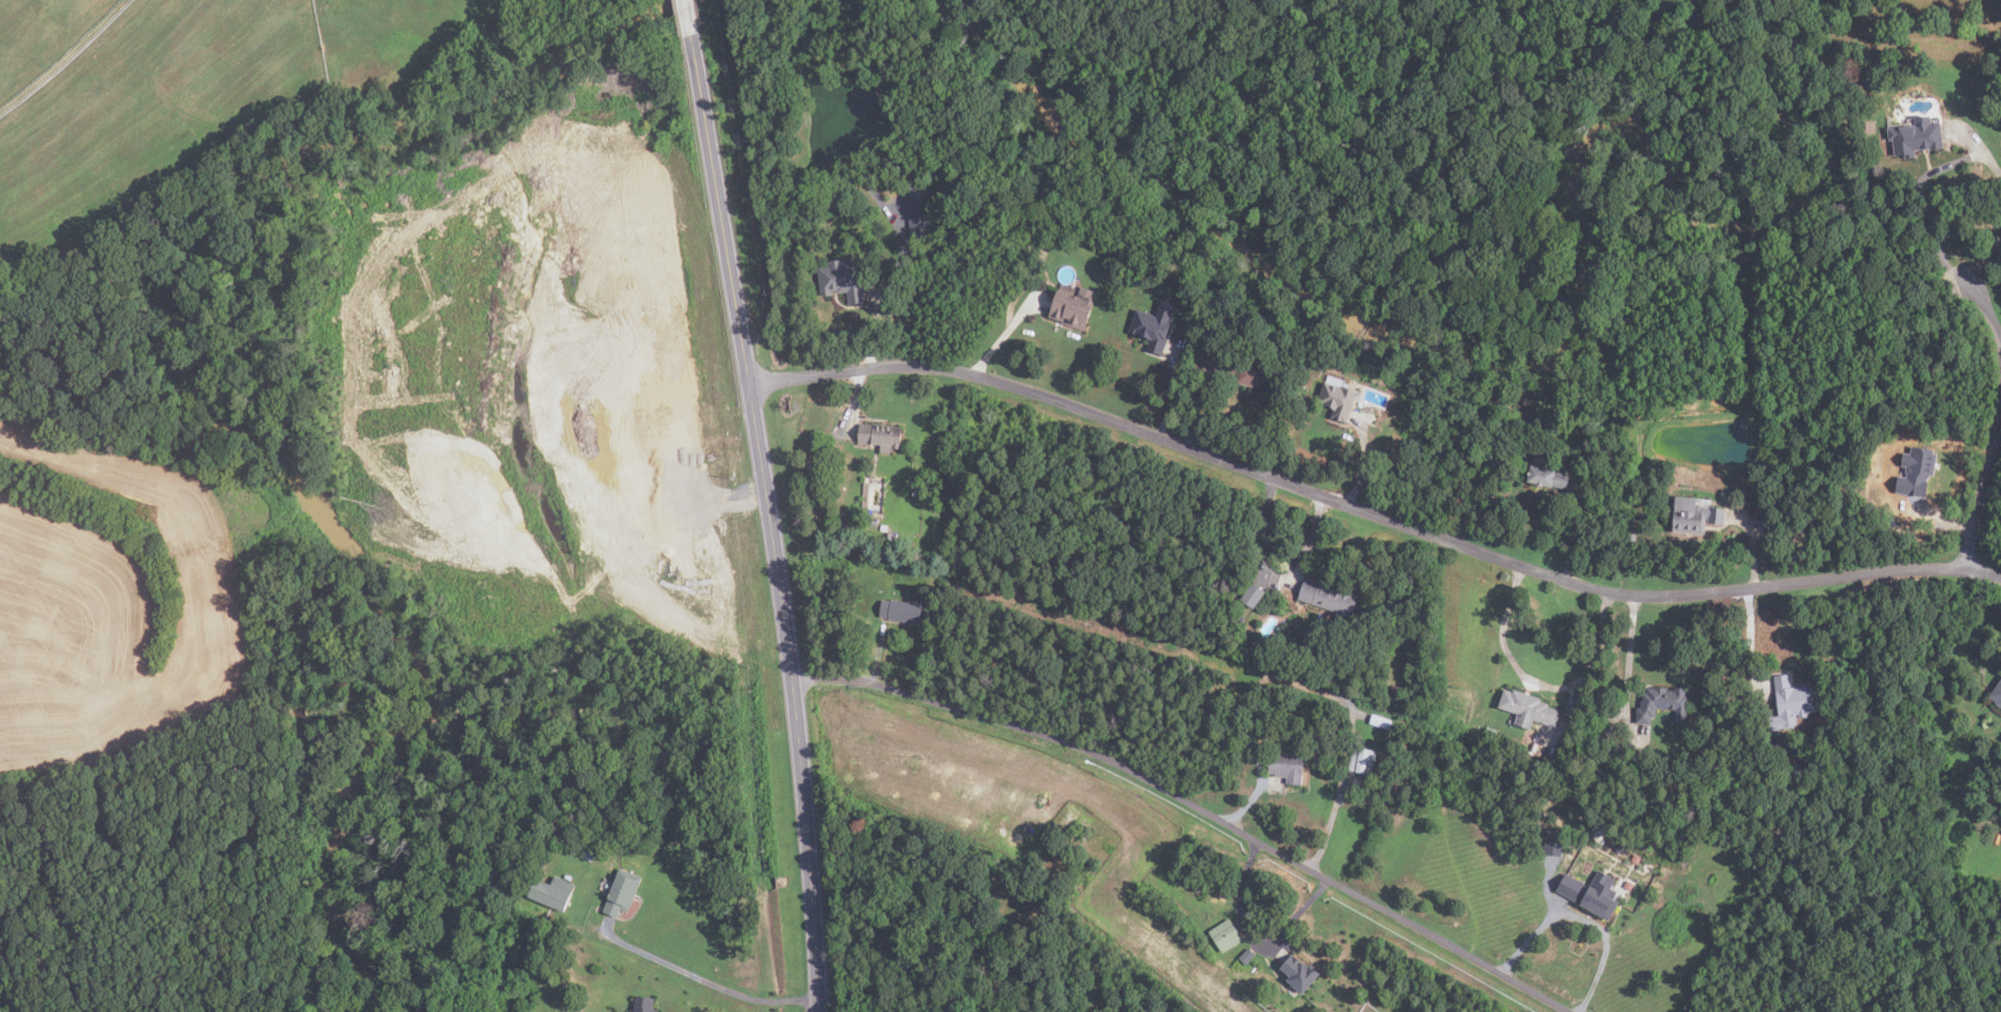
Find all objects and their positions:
road: (689, 17)
road: (64, 57)
building: (1916, 136)
building: (918, 216)
road: (1928, 216)
building: (1014, 228)
building: (842, 281)
road: (1984, 301)
building: (1072, 308)
building: (1152, 327)
road: (873, 330)
road: (1004, 335)
building: (1251, 376)
road: (1167, 389)
building: (1337, 400)
road: (854, 401)
road: (1199, 407)
building: (880, 435)
road: (1364, 458)
building: (1473, 459)
building: (1494, 459)
building: (1546, 473)
building: (1912, 476)
building: (1601, 477)
road: (1982, 495)
road: (1370, 513)
building: (1695, 514)
building: (1758, 519)
building: (1770, 519)
road: (775, 521)
building: (883, 527)
road: (1935, 529)
road: (1576, 533)
building: (889, 536)
road: (1266, 539)
road: (1307, 540)
road: (1751, 547)
building: (1271, 575)
building: (1253, 594)
building: (1327, 596)
building: (963, 610)
building: (902, 611)
building: (1239, 617)
road: (1747, 640)
building: (1395, 642)
road: (1628, 655)
road: (1536, 683)
building: (1396, 692)
building: (1997, 694)
building: (1661, 702)
building: (1791, 703)
building: (1528, 707)
building: (1381, 721)
building: (1490, 732)
building: (1781, 741)
building: (1534, 746)
building: (1363, 759)
building: (1287, 766)
building: (1804, 772)
building: (1989, 786)
road: (1254, 796)
building: (1729, 802)
road: (1197, 810)
road: (1328, 827)
building: (1554, 842)
building: (1621, 848)
building: (1570, 886)
building: (552, 892)
building: (618, 896)
building: (1602, 896)
road: (1588, 914)
building: (1225, 935)
road: (1254, 941)
building: (1246, 956)
building: (1299, 972)
road: (704, 981)
building: (643, 1004)

